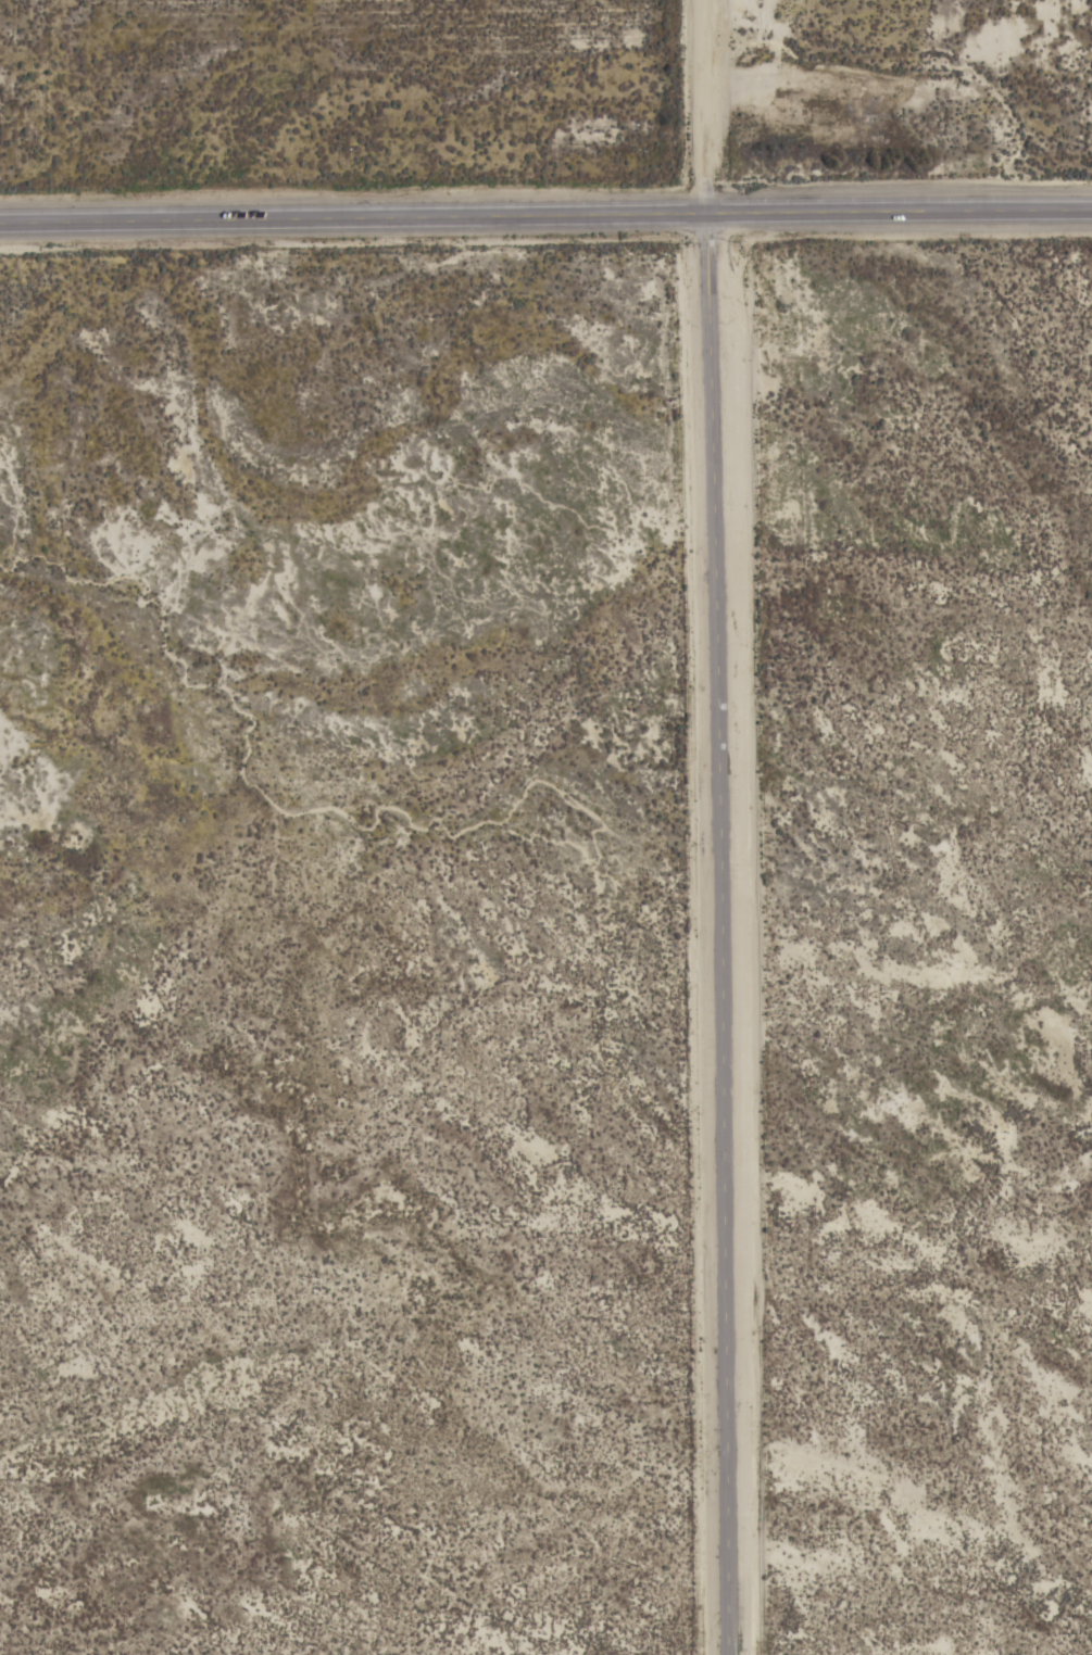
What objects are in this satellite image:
road: (710, 109)
road: (902, 217)
road: (355, 222)
road: (719, 936)

